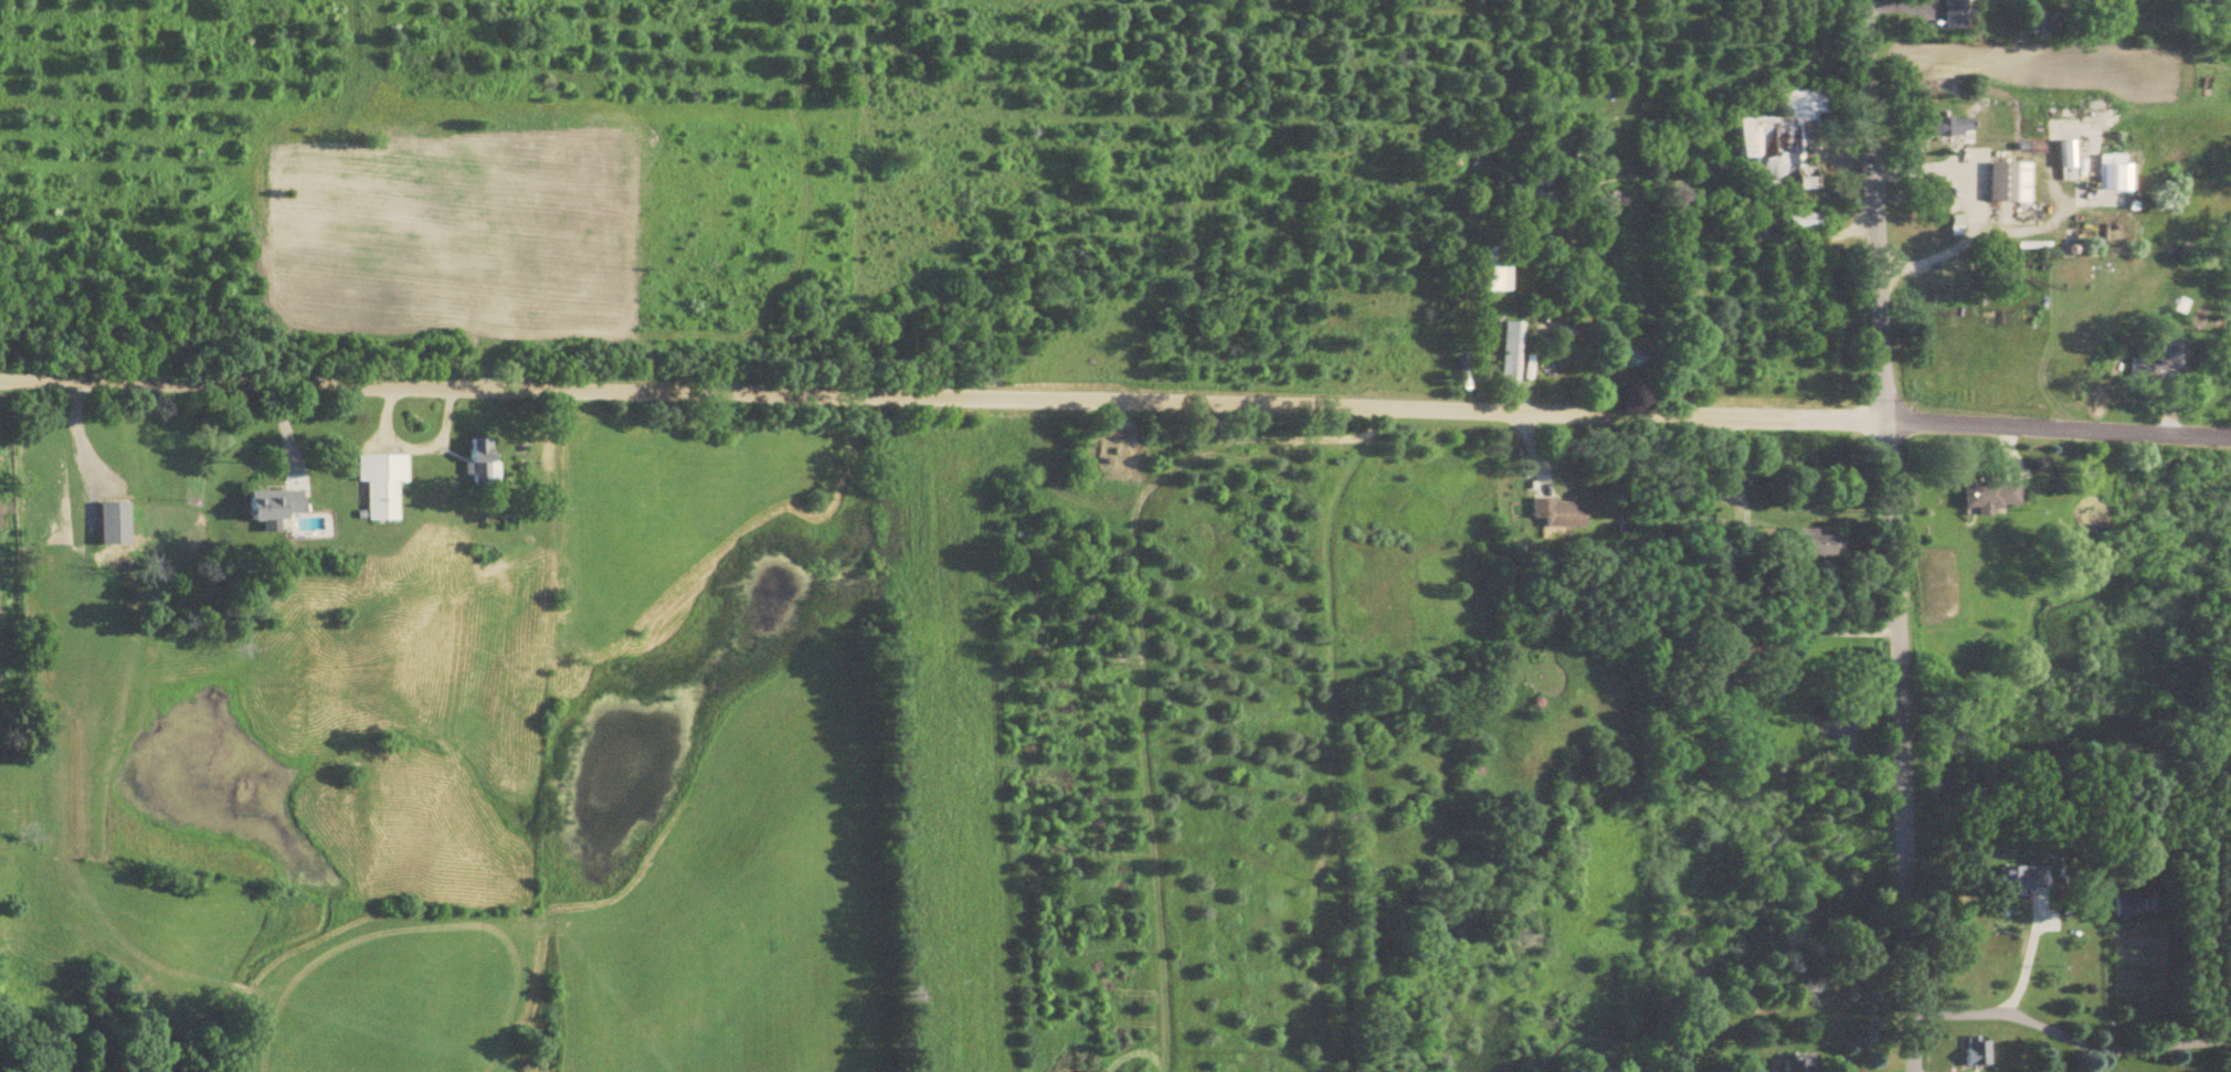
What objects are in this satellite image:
building: (1947, 14)
building: (2042, 33)
building: (1941, 127)
building: (1775, 140)
building: (2061, 155)
building: (2108, 173)
building: (2002, 183)
road: (1807, 194)
building: (1540, 200)
building: (1618, 200)
road: (1973, 209)
road: (1749, 210)
building: (1796, 224)
building: (1483, 270)
building: (1506, 355)
building: (1637, 358)
building: (2155, 362)
road: (941, 396)
road: (2056, 431)
road: (81, 439)
building: (482, 461)
building: (382, 485)
building: (1984, 495)
building: (277, 508)
building: (1553, 513)
building: (116, 526)
road: (1889, 535)
building: (1807, 543)
road: (1133, 565)
road: (1324, 572)
road: (1226, 585)
road: (1826, 631)
building: (1722, 666)
building: (2019, 880)
building: (2123, 906)
road: (2024, 960)
road: (2068, 1040)
building: (1973, 1052)
building: (1791, 1063)
building: (2228, 1066)

